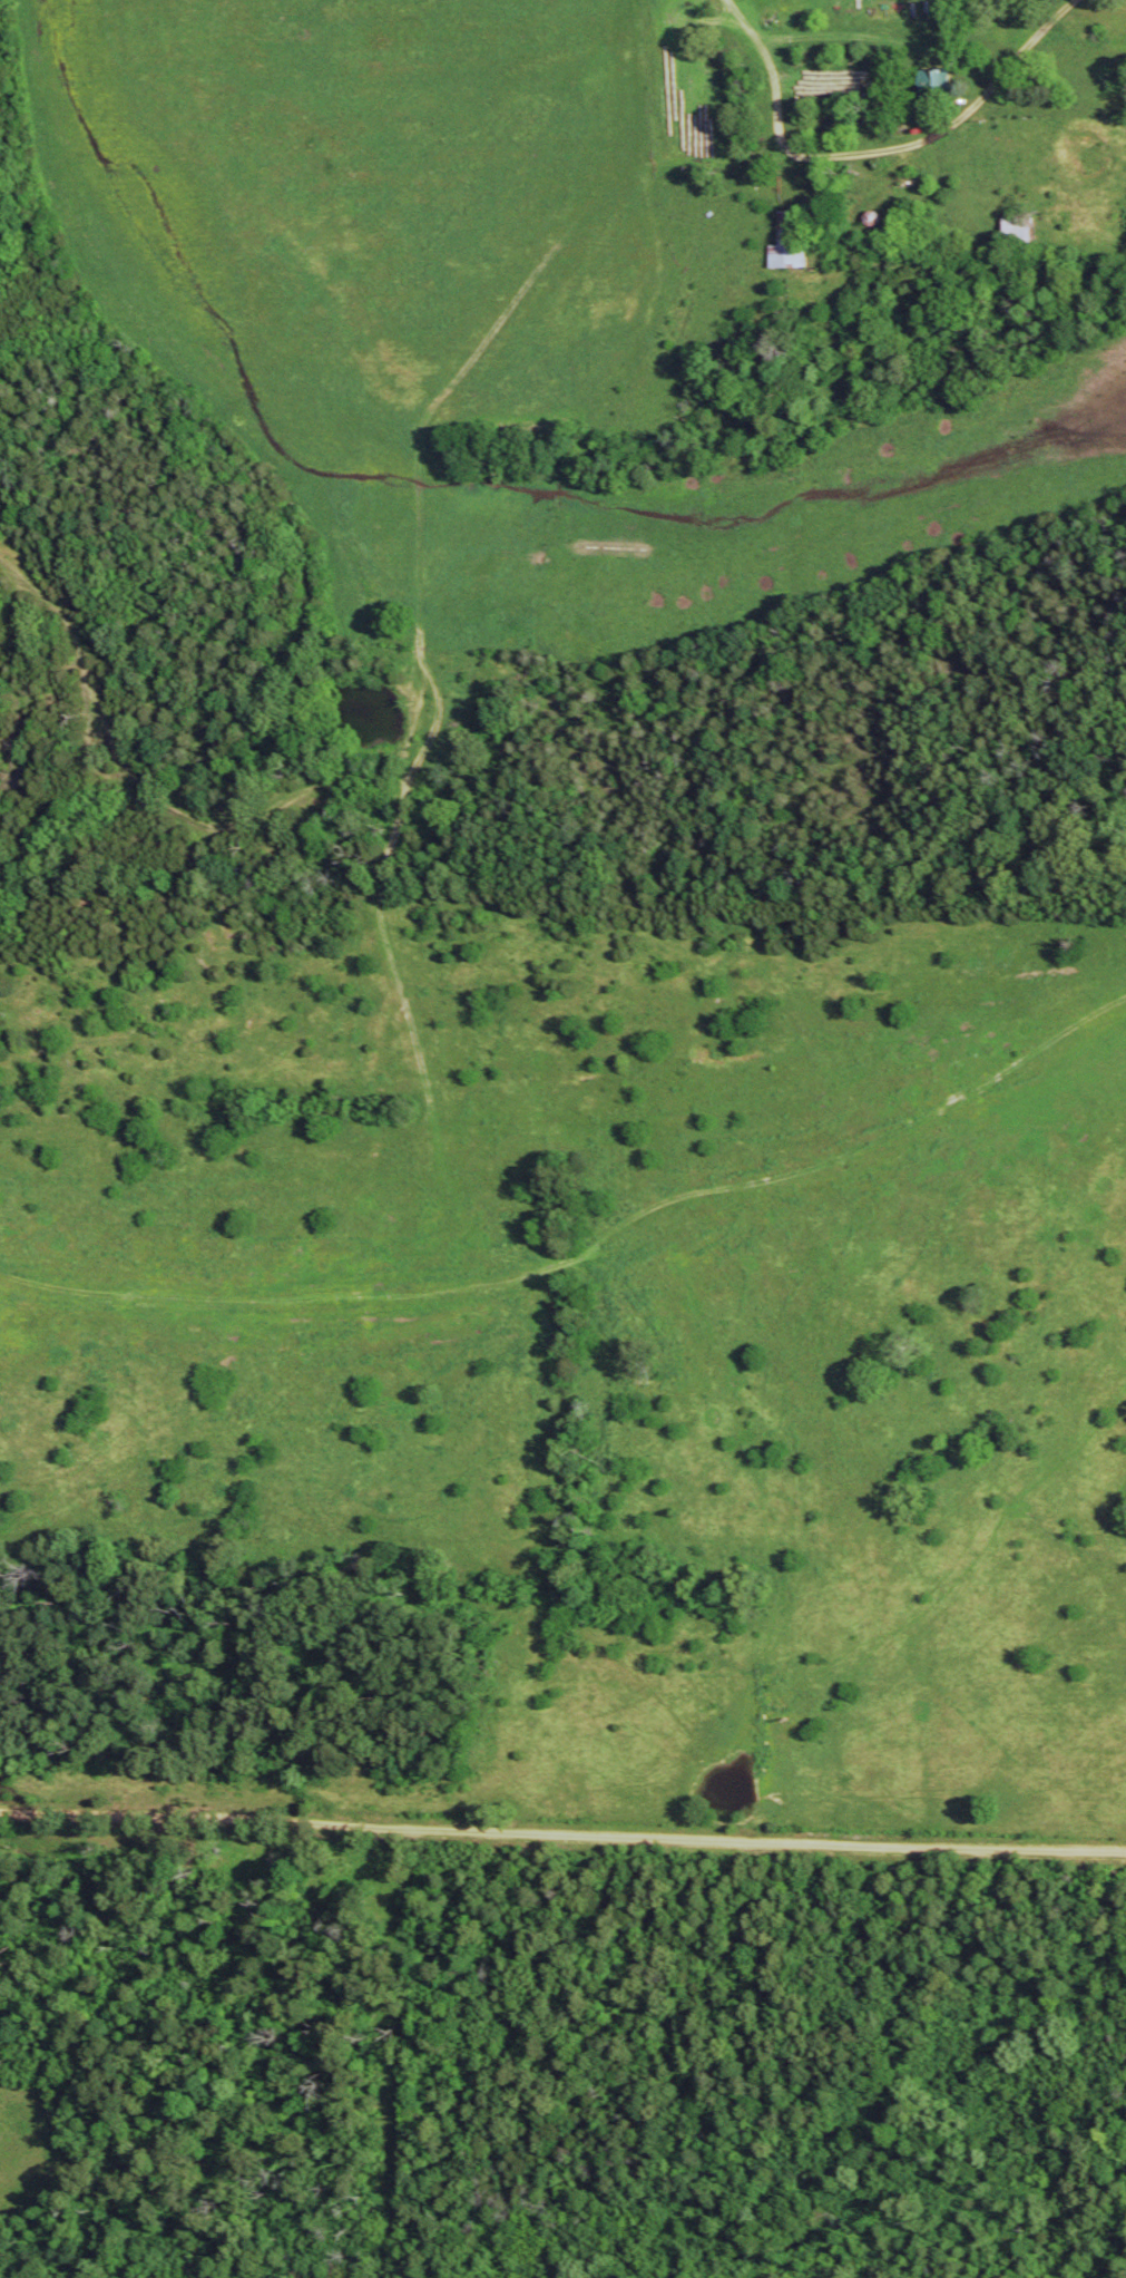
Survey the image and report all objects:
building: (934, 87)
building: (1019, 234)
building: (787, 249)
road: (562, 1840)

